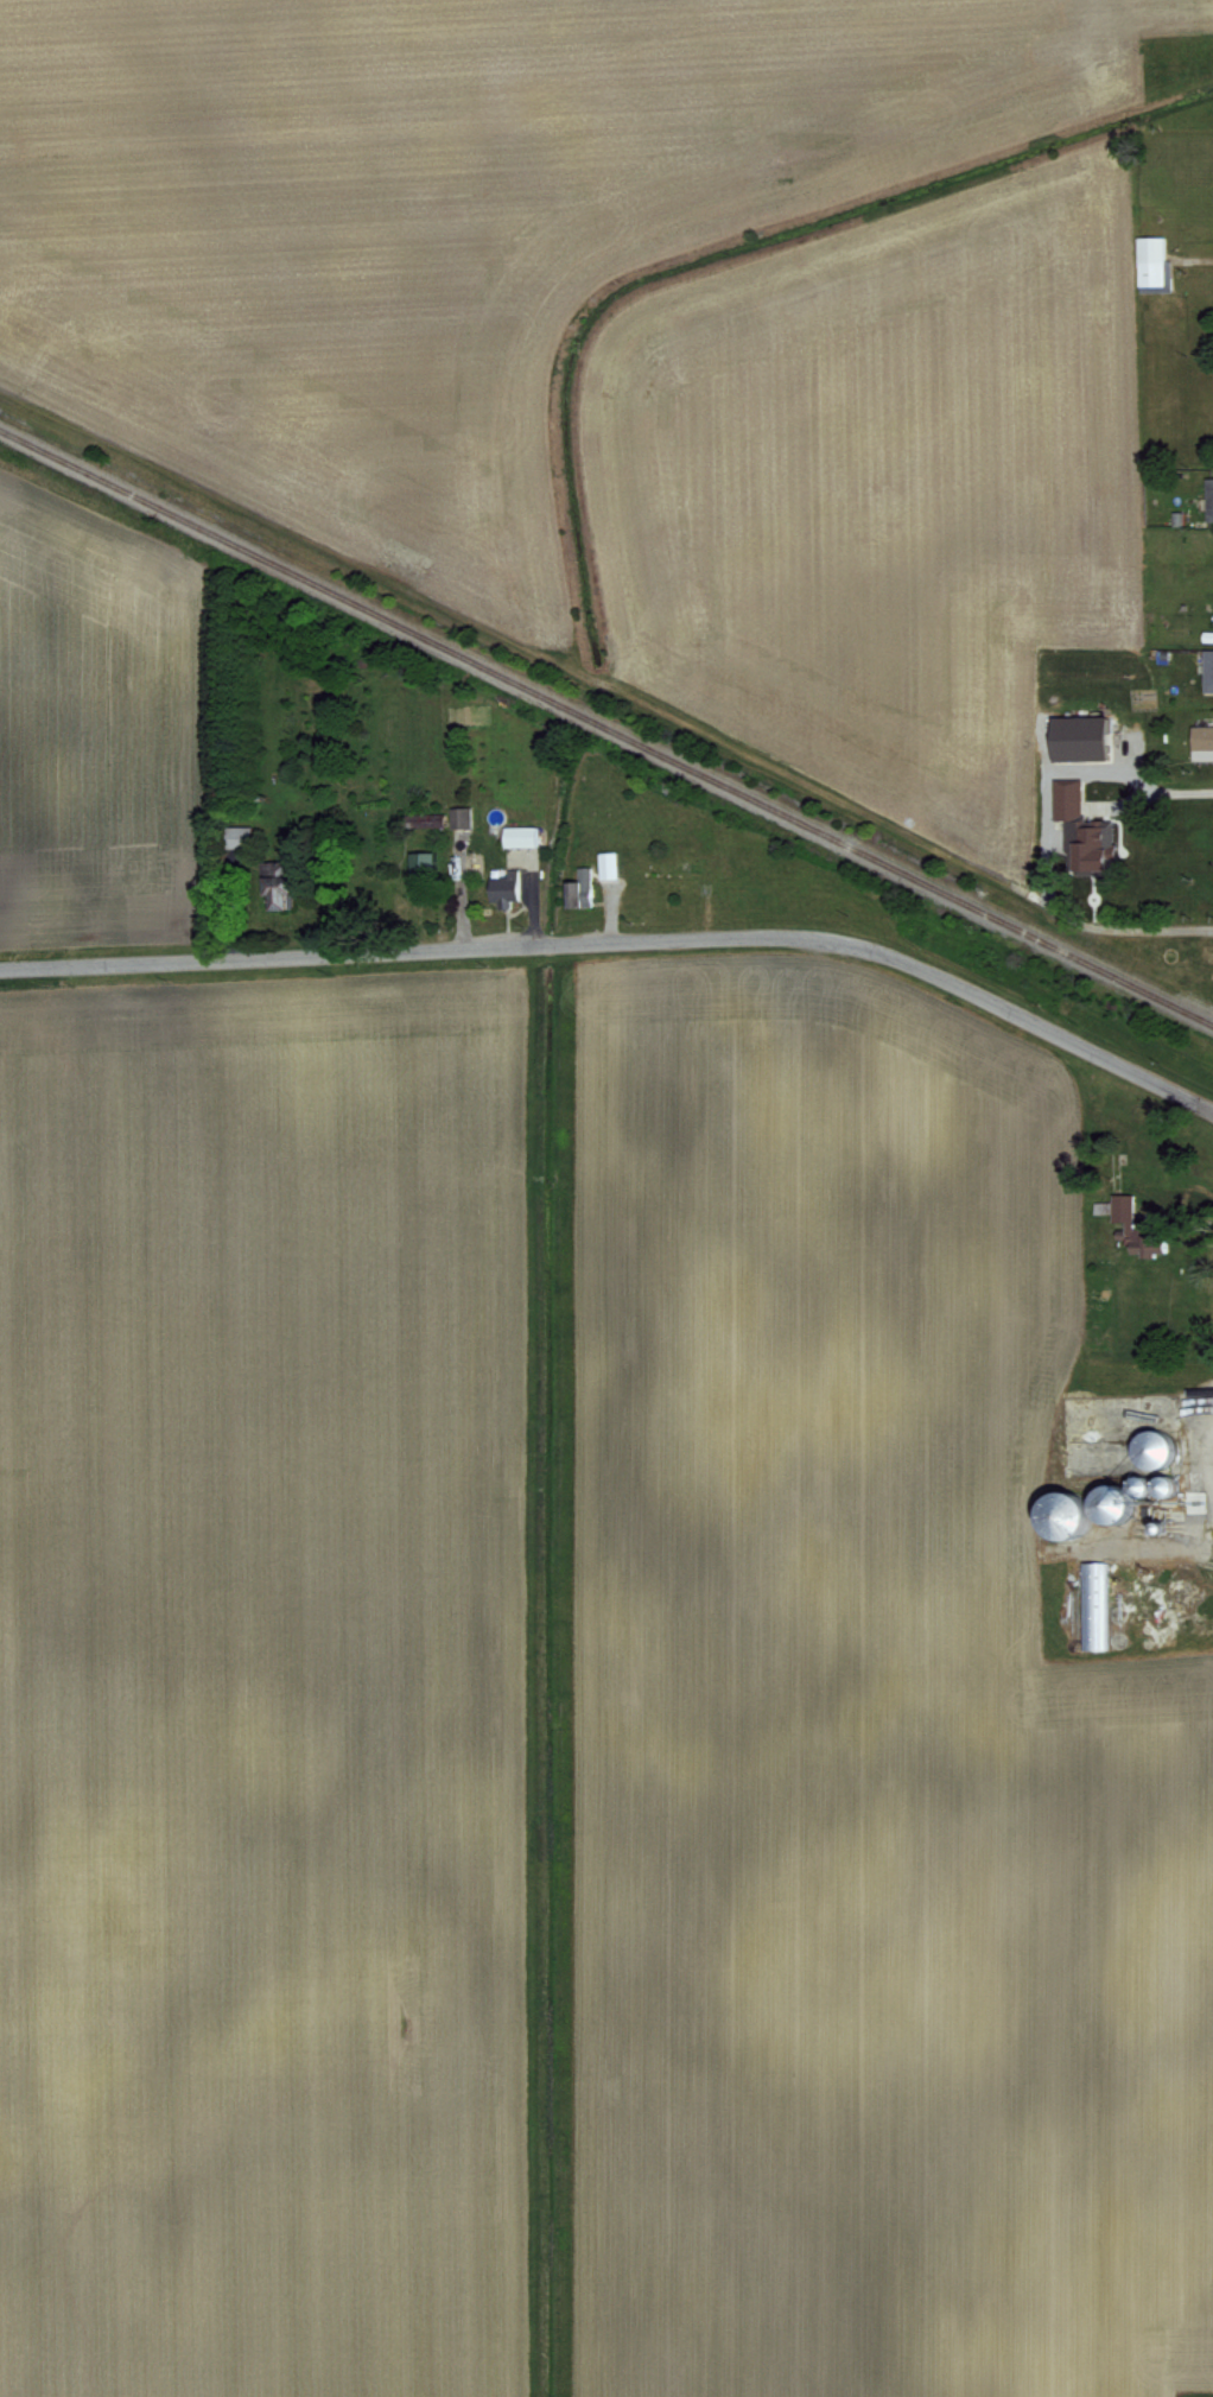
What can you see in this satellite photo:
building: (1155, 259)
crop: (616, 512)
building: (1209, 668)
railway: (606, 724)
building: (1072, 734)
building: (1200, 738)
building: (1063, 795)
building: (523, 833)
road: (1048, 835)
building: (1082, 846)
building: (611, 863)
road: (625, 937)
building: (1122, 1210)
road: (1186, 1216)
building: (1092, 1603)

